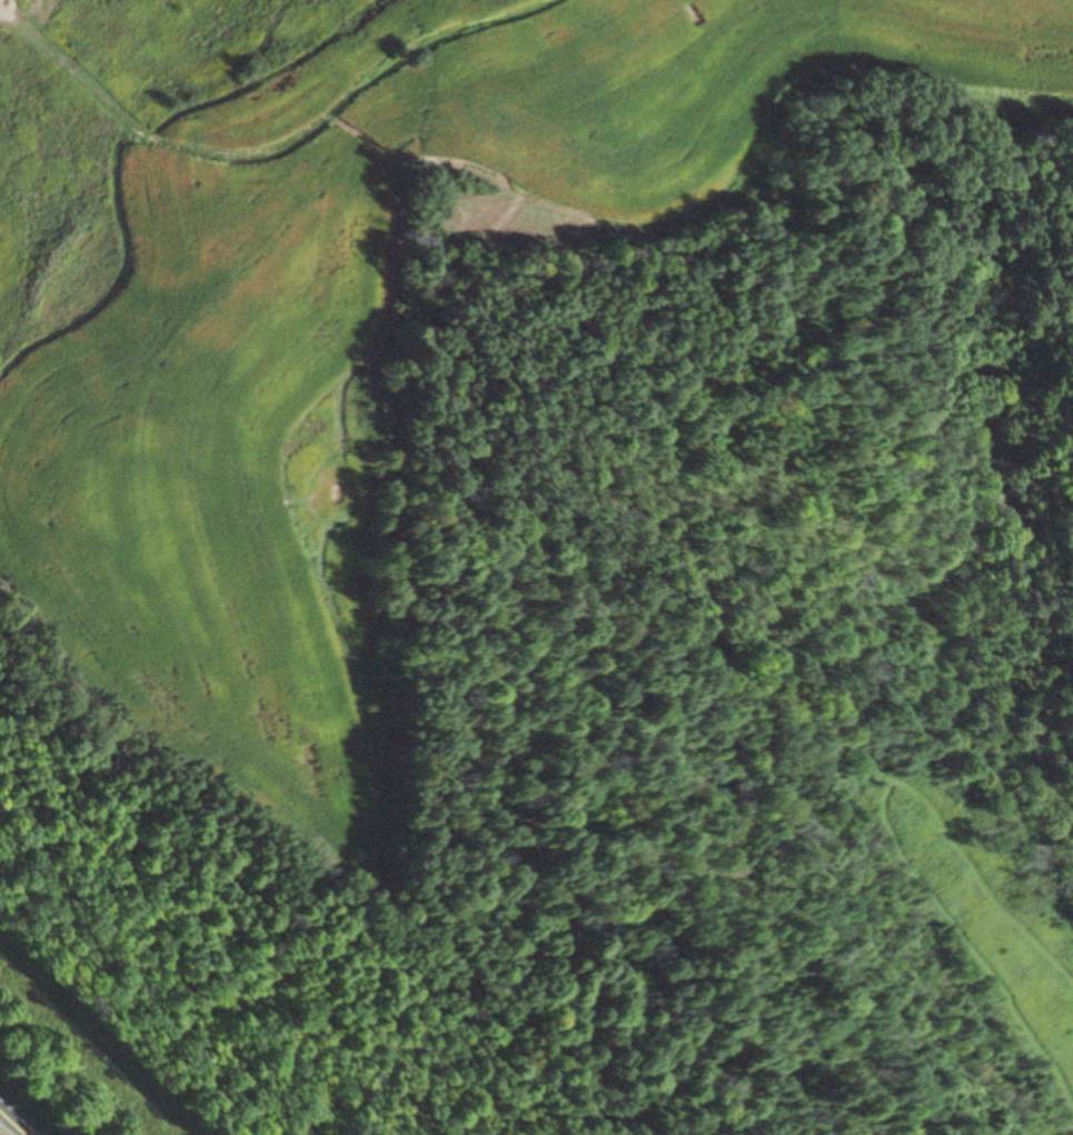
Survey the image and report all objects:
road: (11, 1124)

